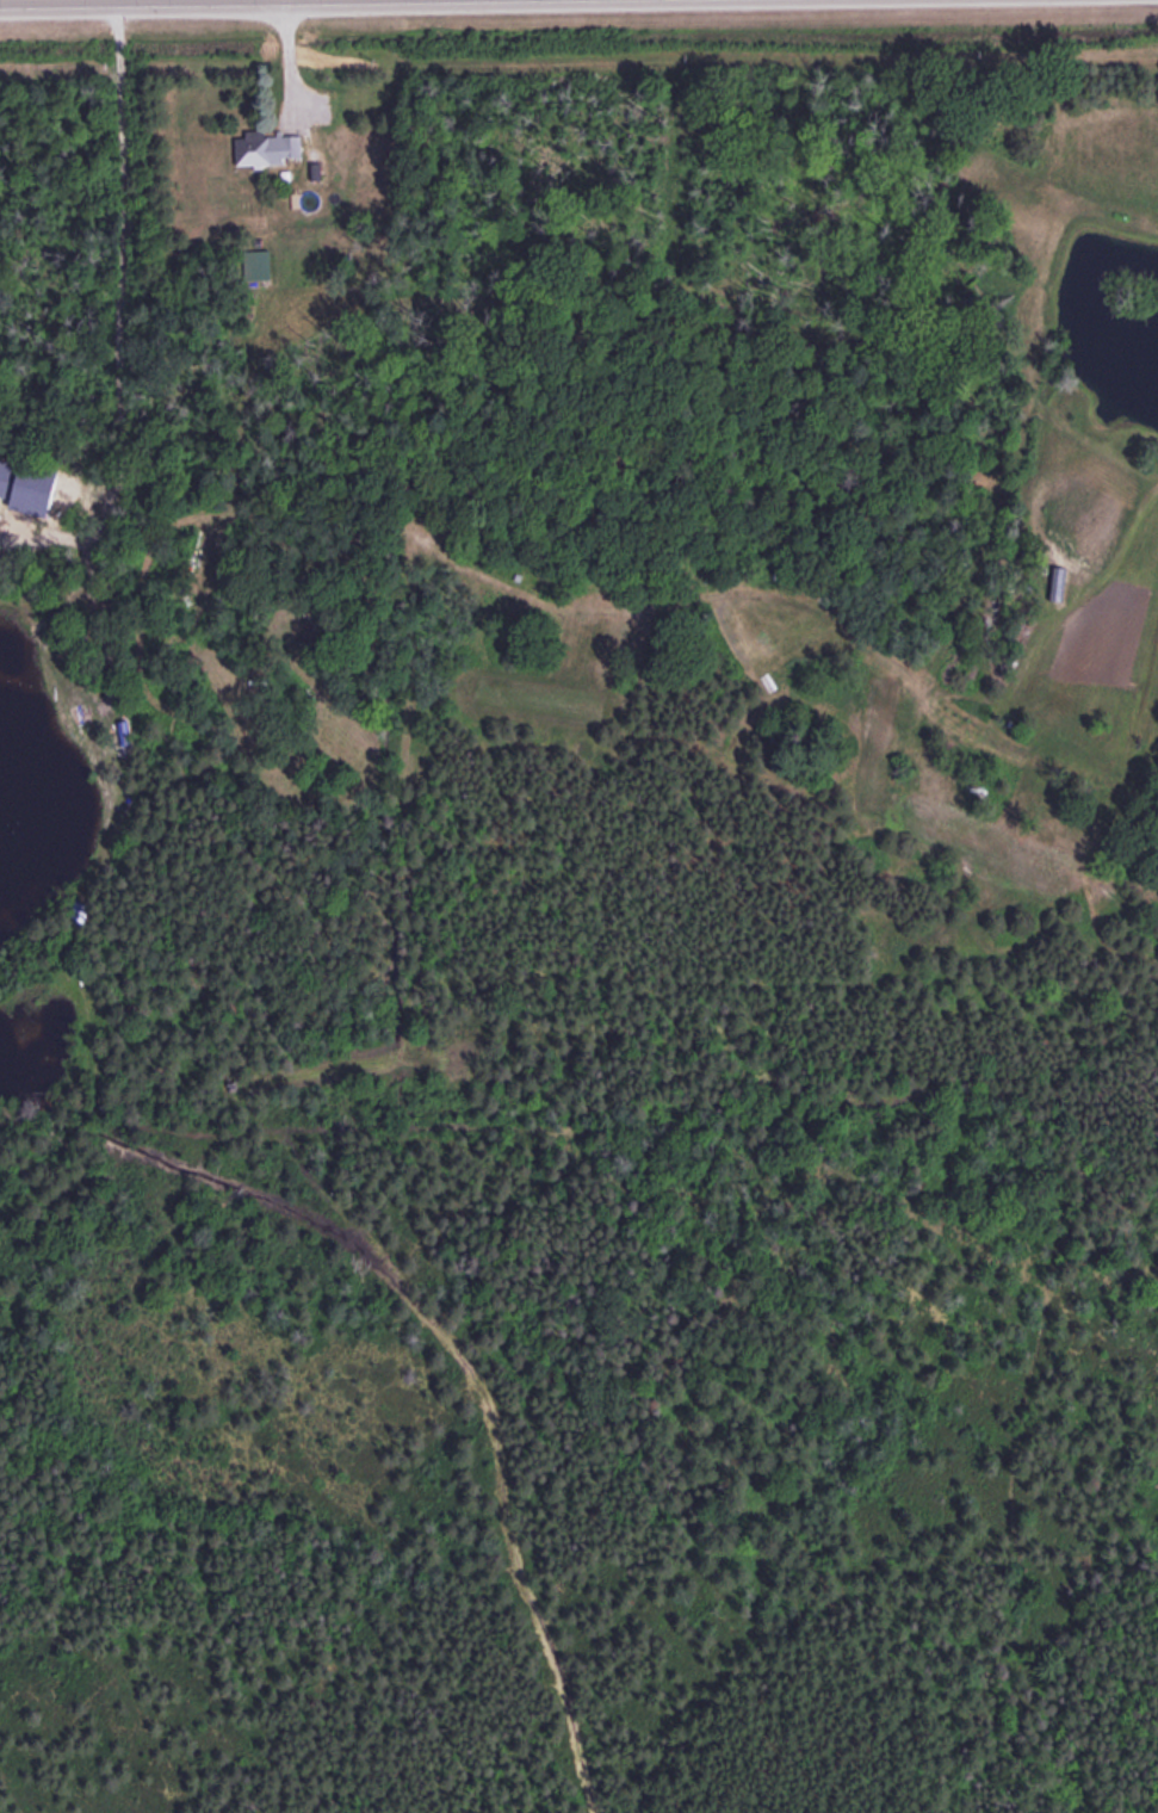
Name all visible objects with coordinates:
building: (266, 146)

